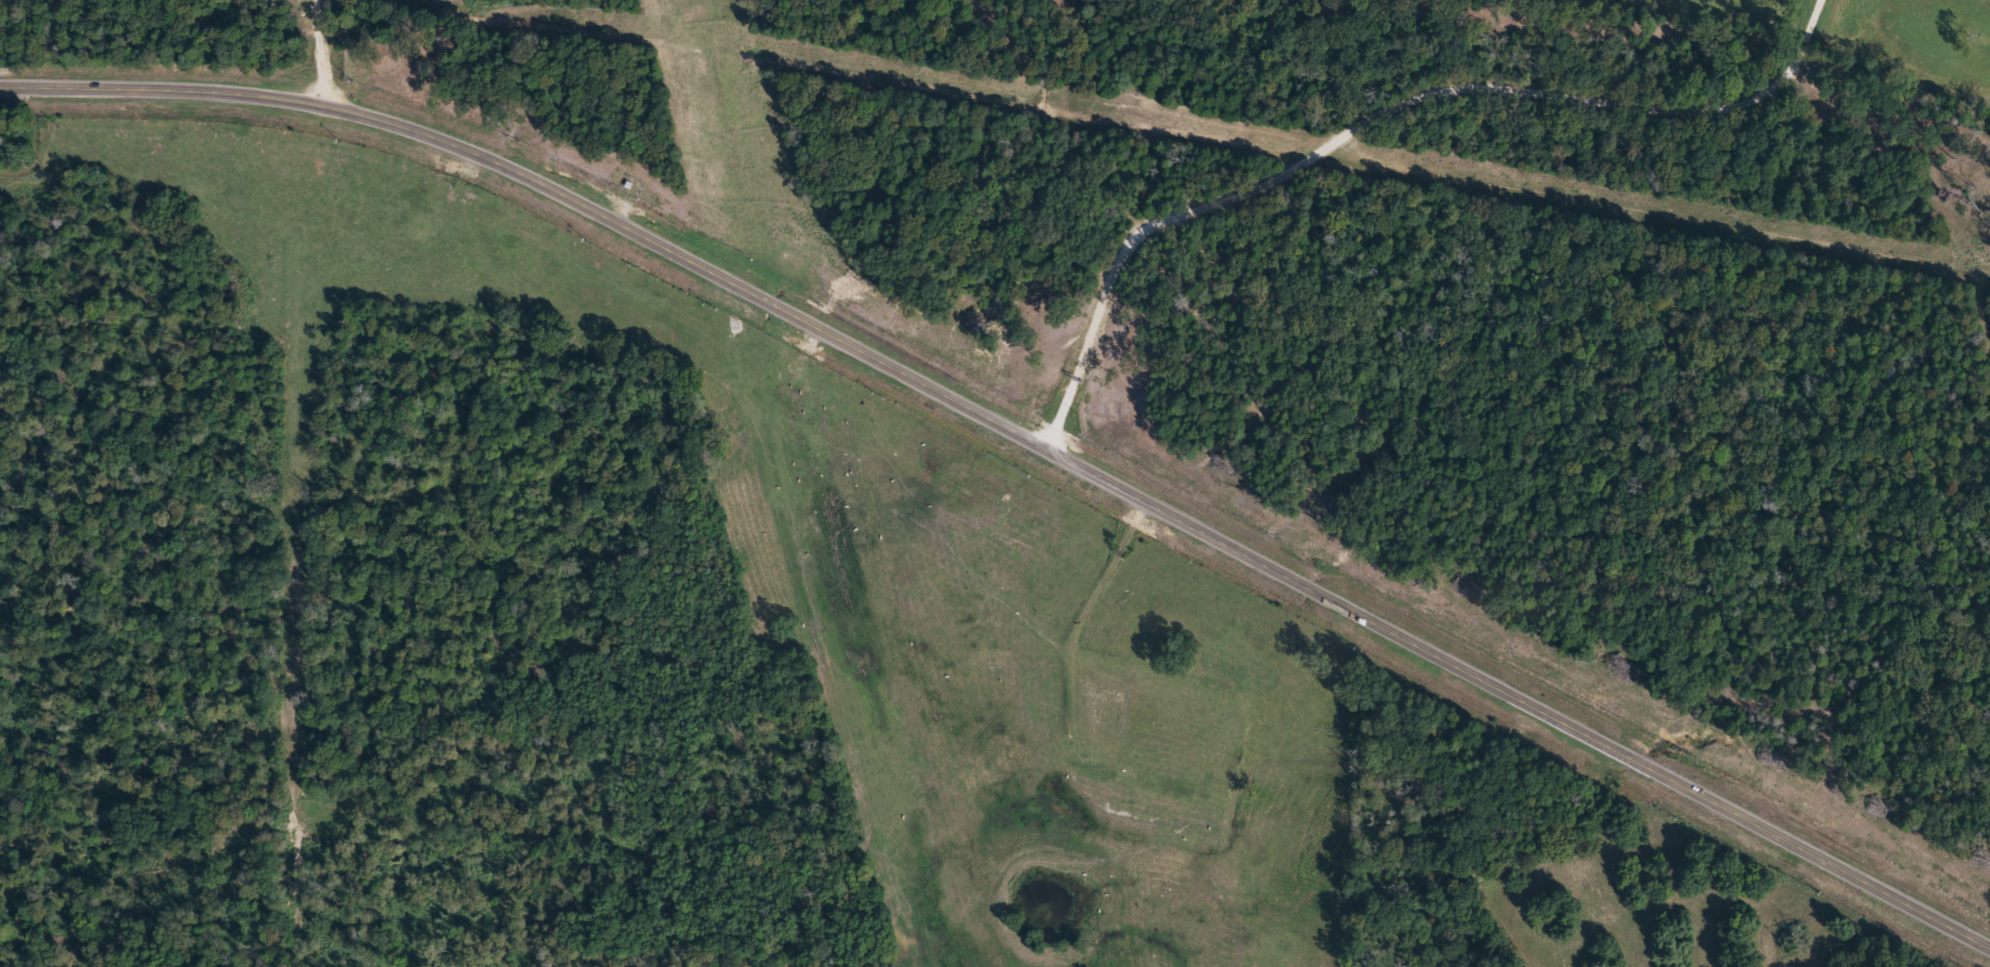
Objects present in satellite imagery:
road: (1394, 83)
road: (1022, 434)

